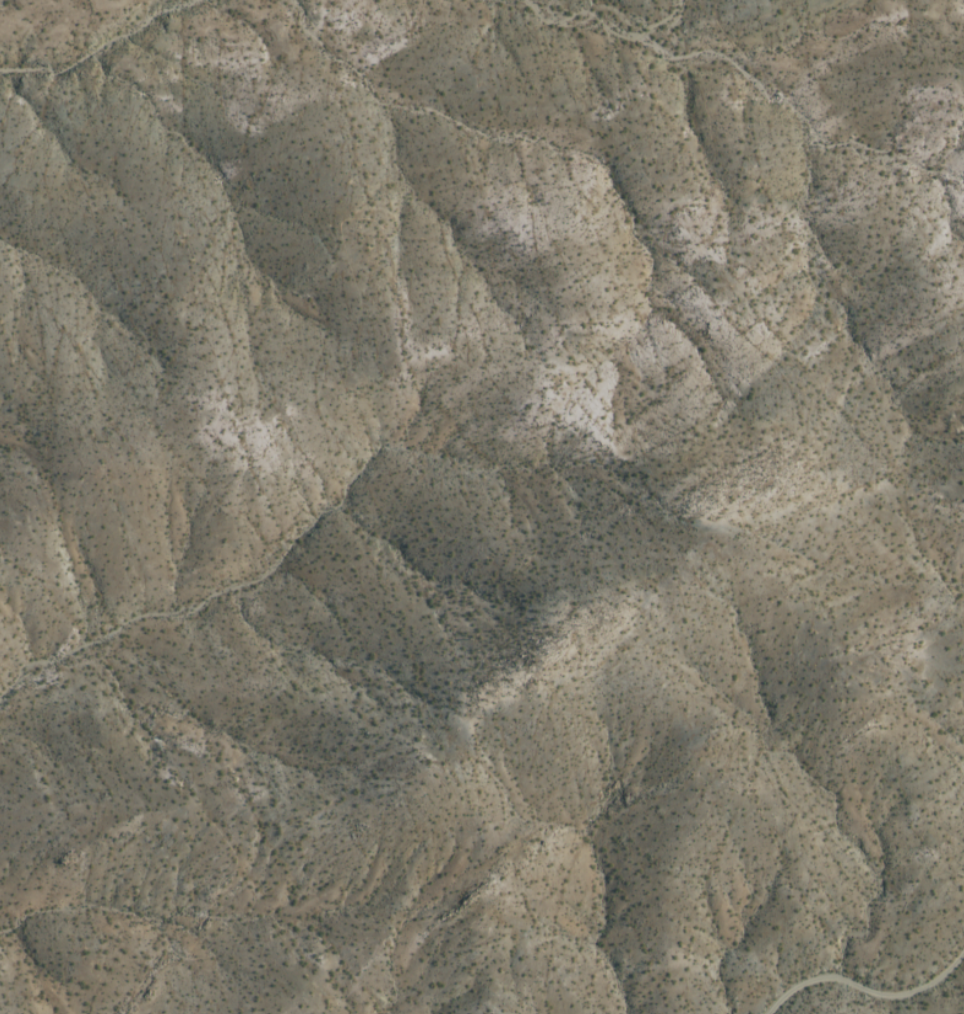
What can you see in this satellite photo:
road: (885, 1001)

